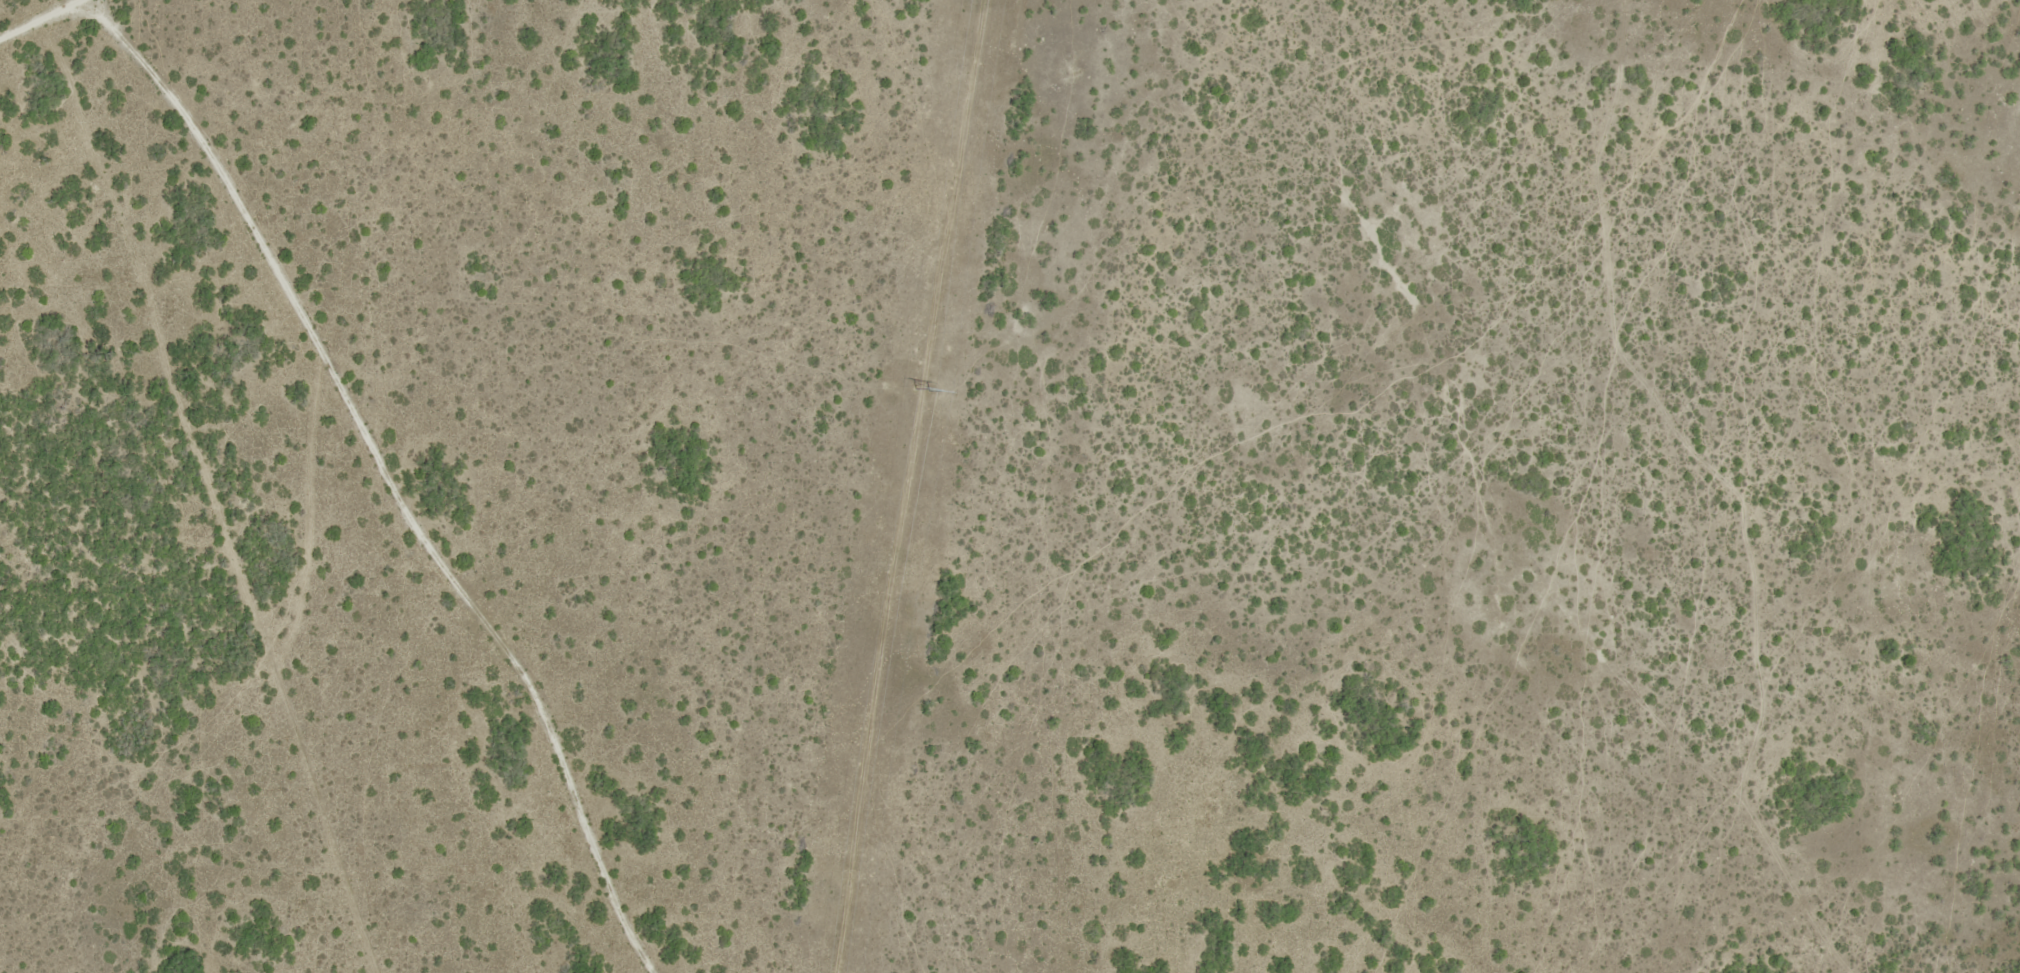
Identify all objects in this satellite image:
power tower: (921, 390)

